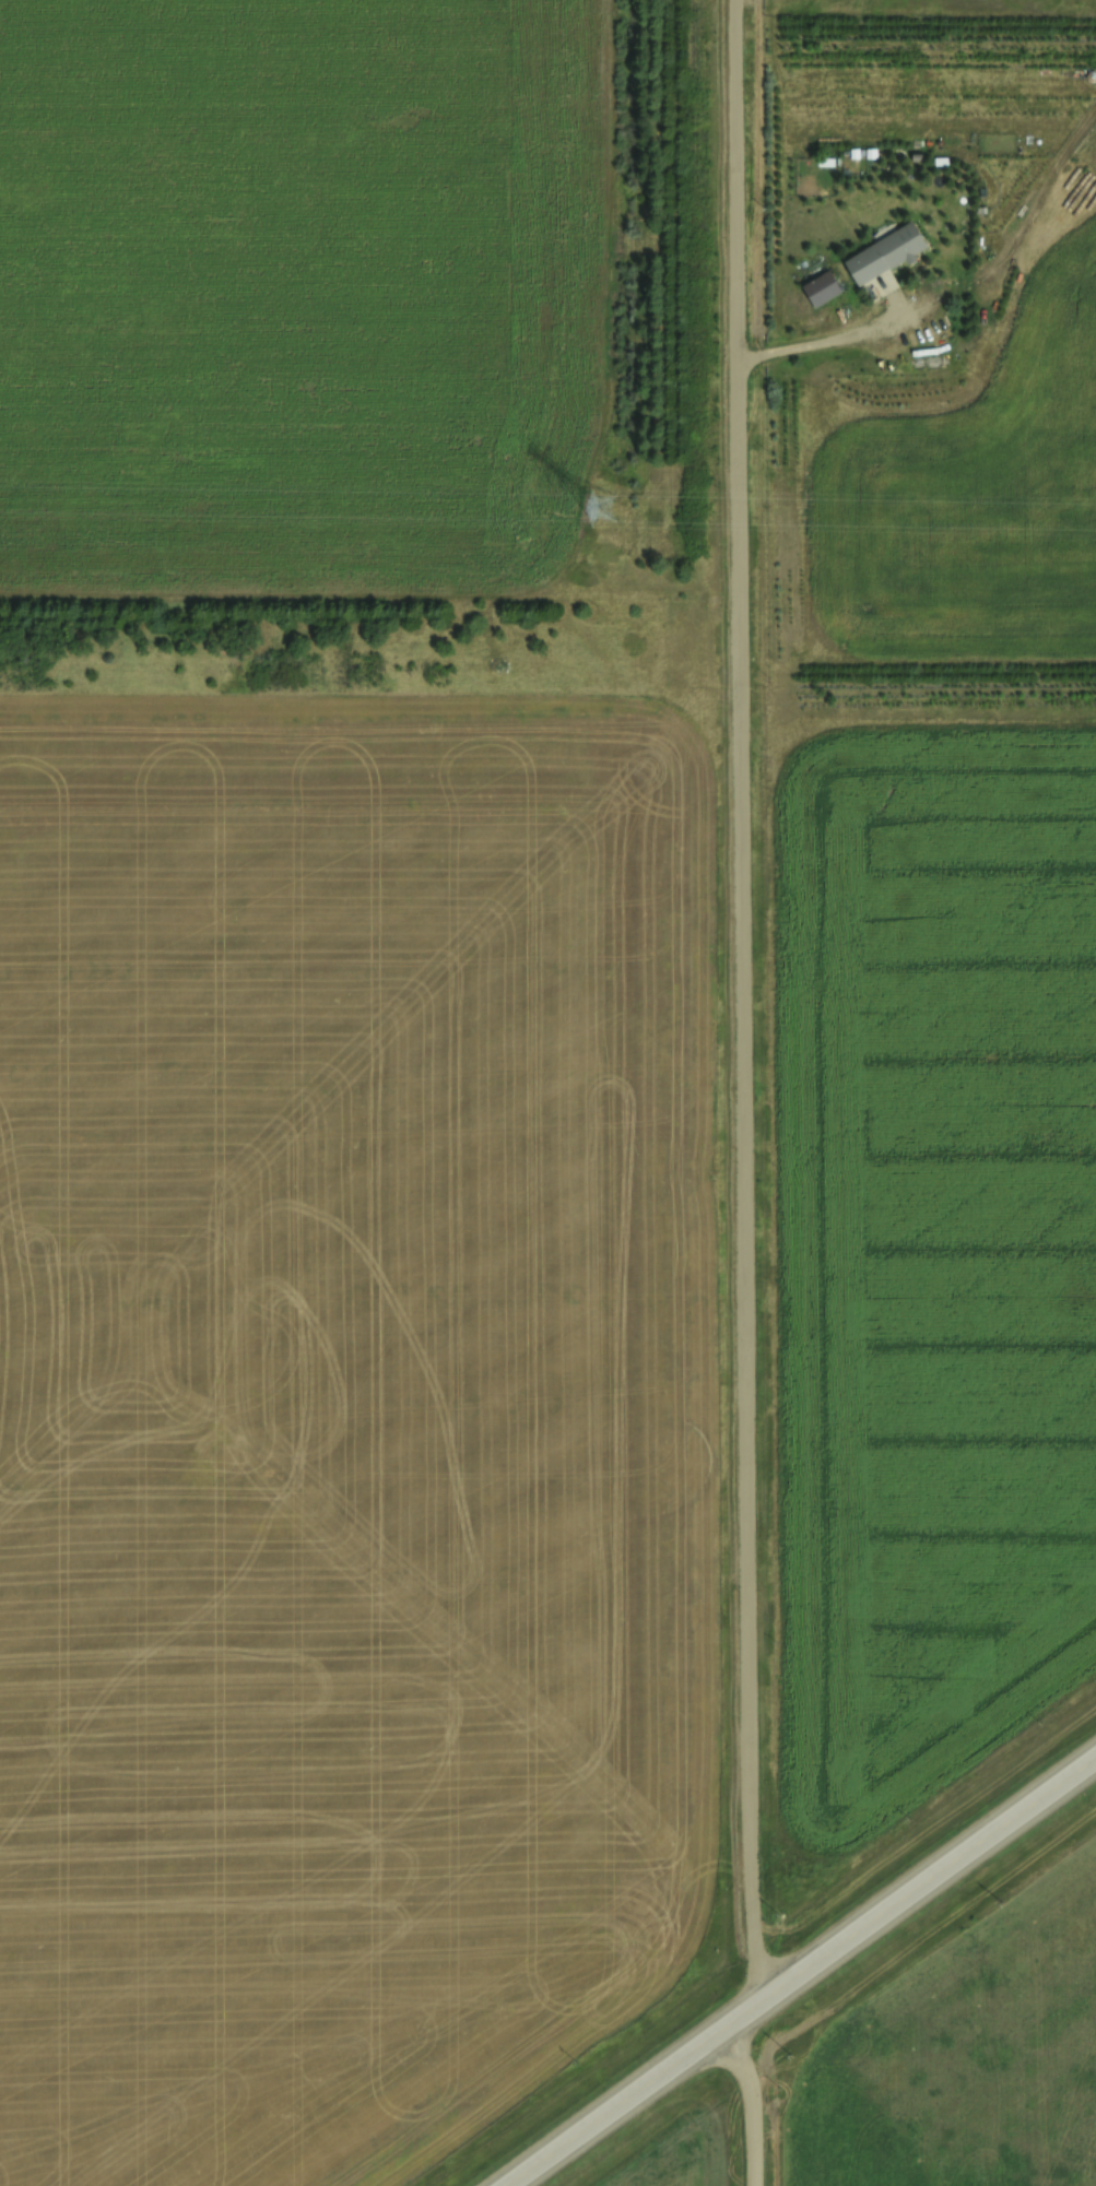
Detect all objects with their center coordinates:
building: (883, 262)
building: (821, 290)
power tower: (600, 509)
road: (750, 1092)
road: (803, 1972)

